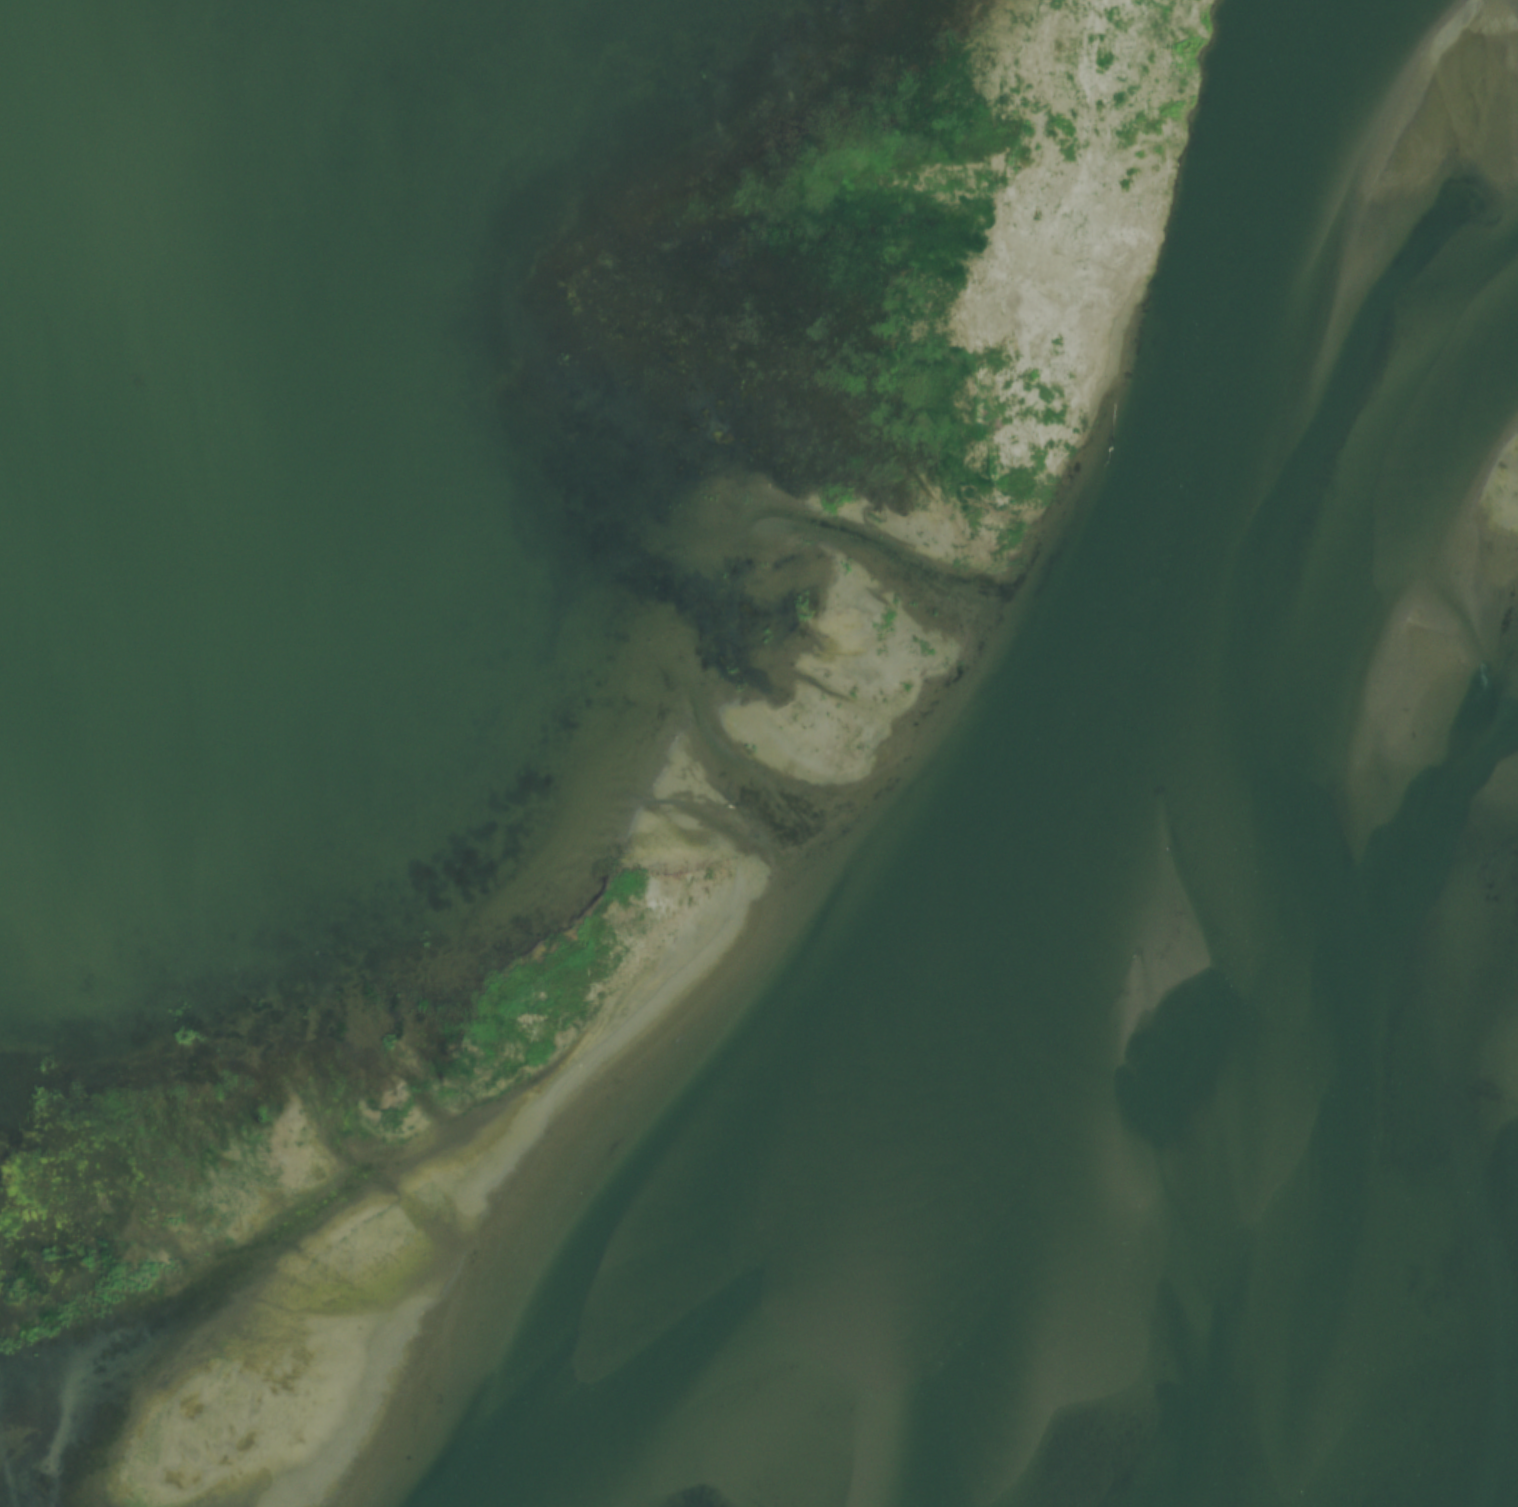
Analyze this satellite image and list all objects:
river: (1334, 1062)

